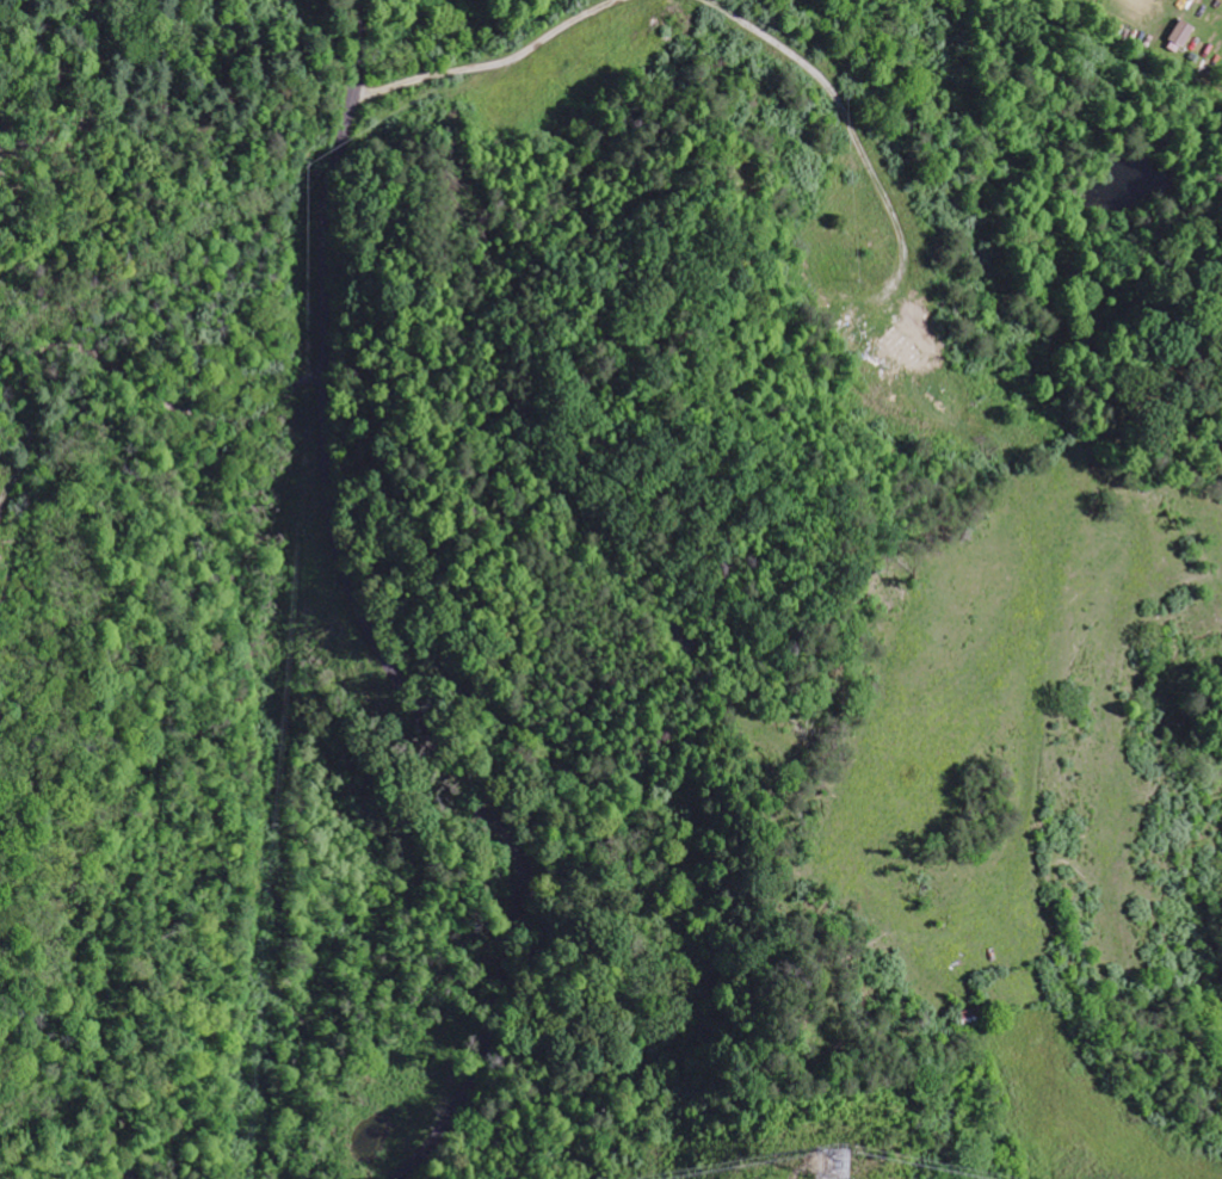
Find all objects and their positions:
building: (1184, 32)
building: (911, 334)
road: (372, 625)
power tower: (835, 1162)

